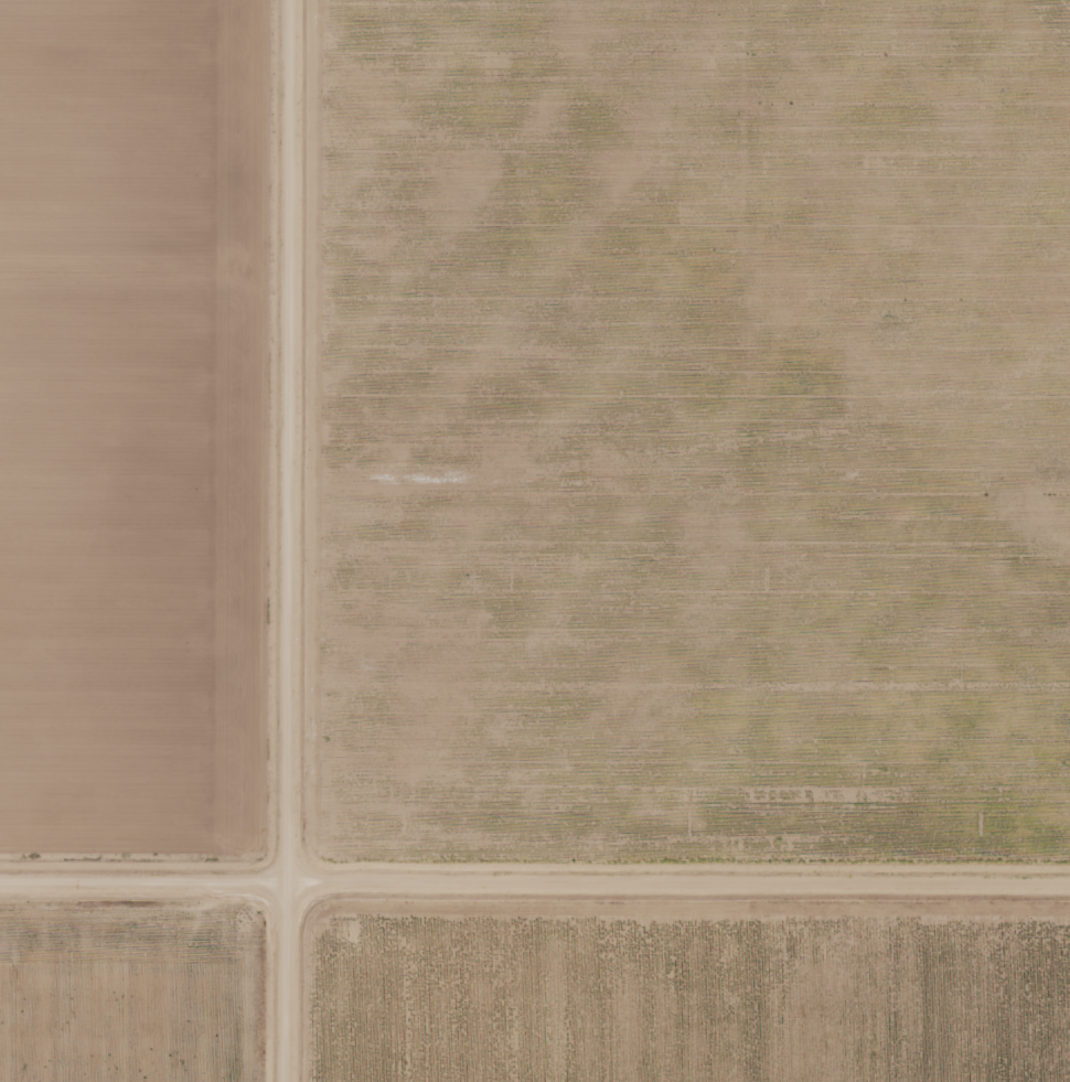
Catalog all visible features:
road: (300, 540)
road: (534, 871)

